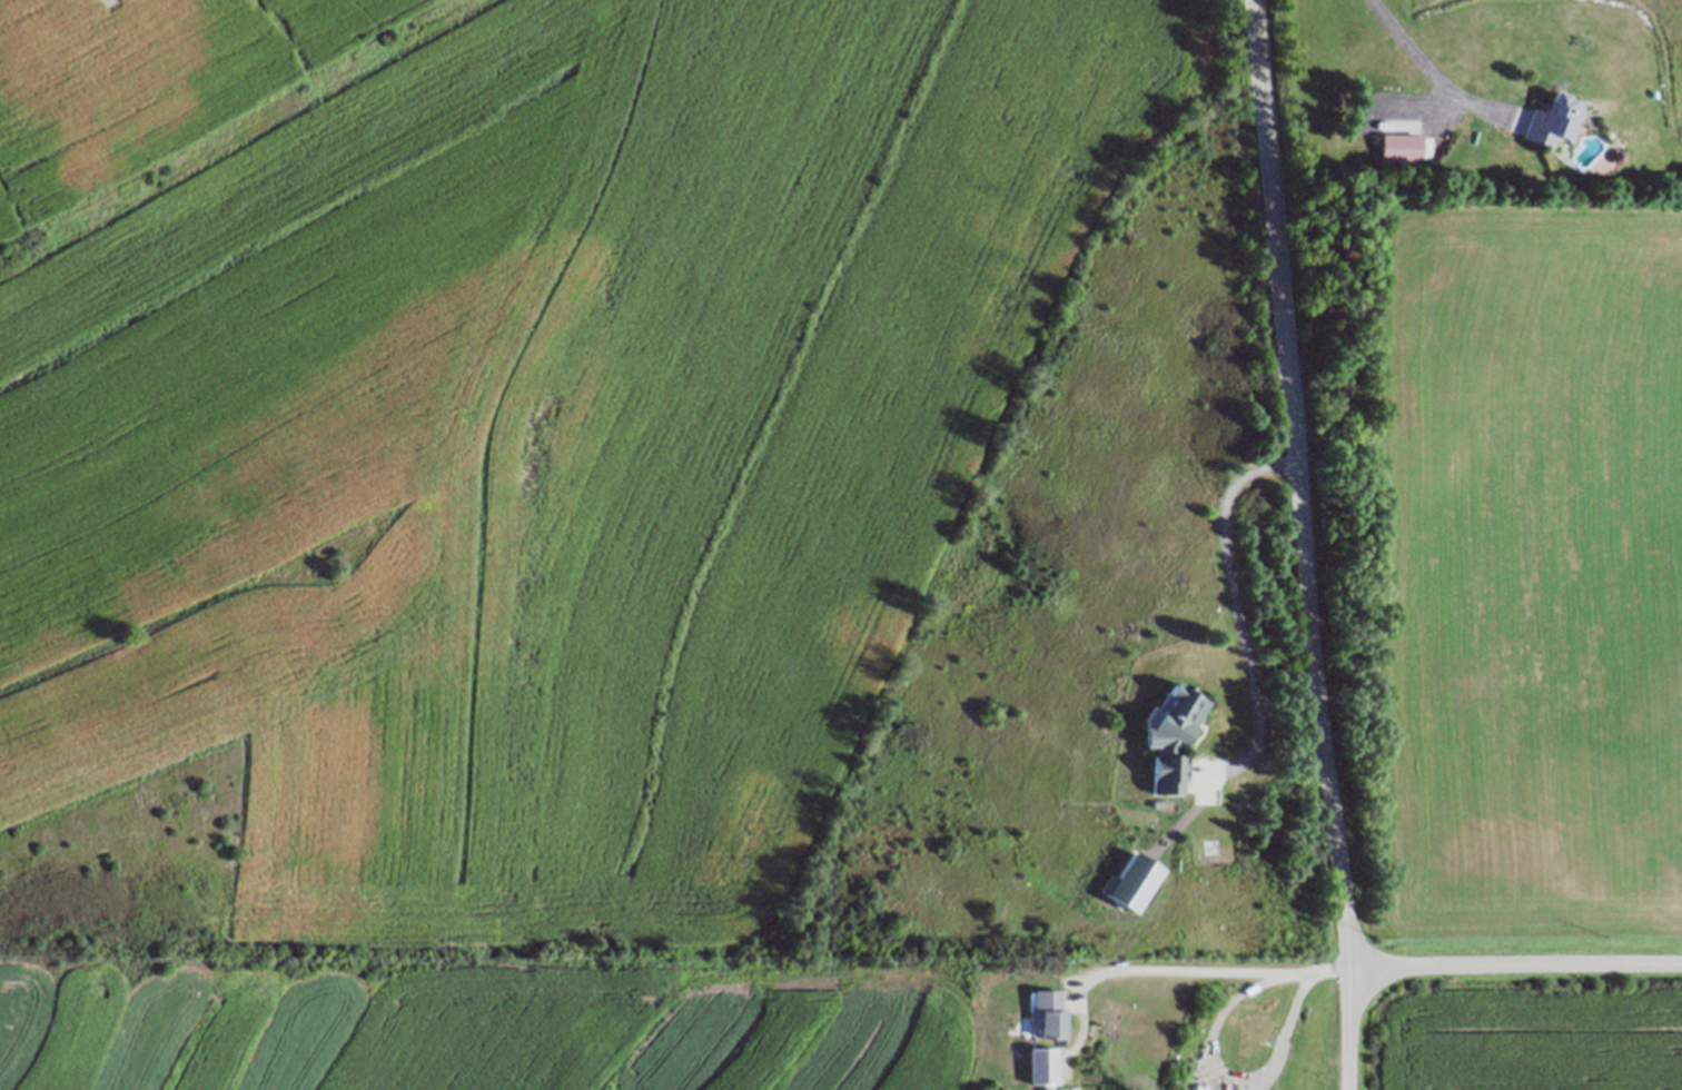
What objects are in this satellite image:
road: (1435, 77)
building: (1549, 120)
building: (1404, 147)
road: (1303, 545)
road: (1240, 611)
building: (1170, 740)
road: (1515, 965)
road: (1124, 972)
building: (1046, 1017)
road: (1211, 1051)

